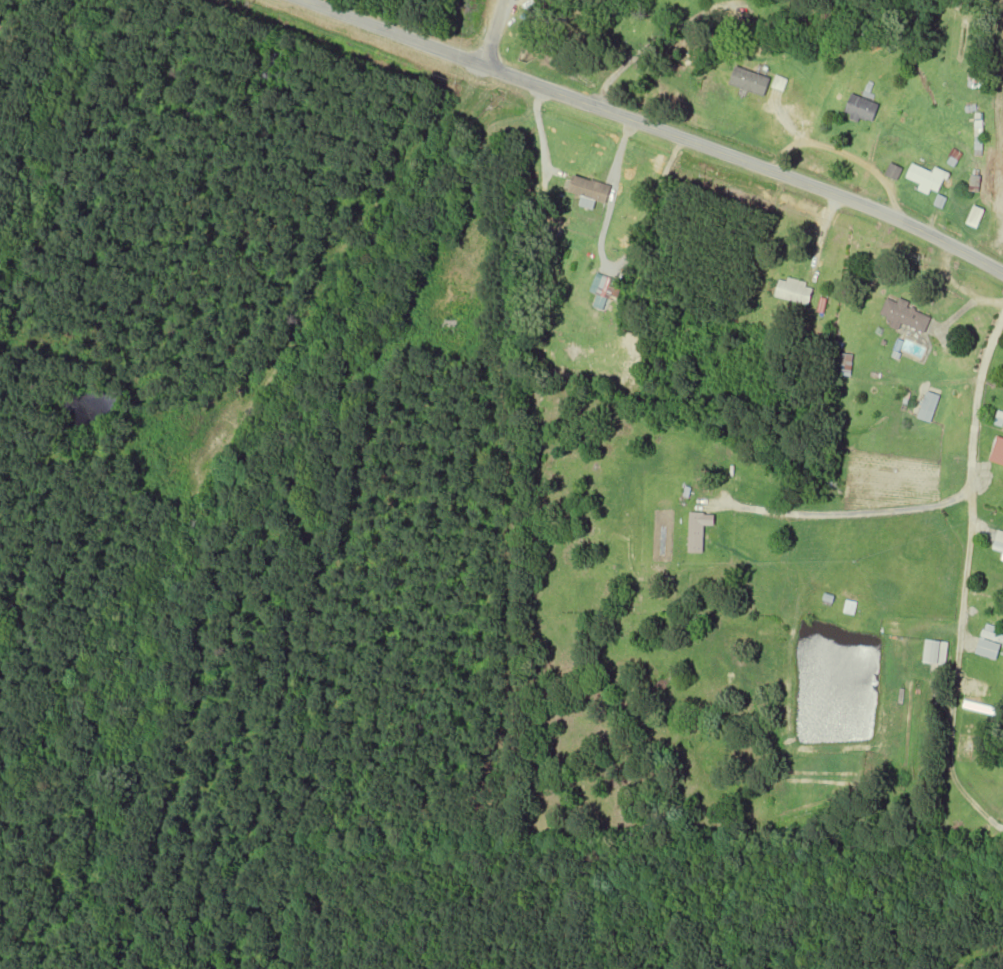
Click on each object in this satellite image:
building: (796, 13)
road: (491, 32)
building: (860, 109)
road: (655, 129)
building: (926, 178)
building: (587, 191)
building: (975, 217)
building: (604, 286)
building: (794, 291)
building: (906, 315)
building: (845, 364)
building: (928, 406)
building: (997, 450)
building: (828, 487)
building: (698, 530)
building: (999, 541)
building: (1002, 559)
road: (964, 580)
building: (989, 643)
building: (935, 652)

